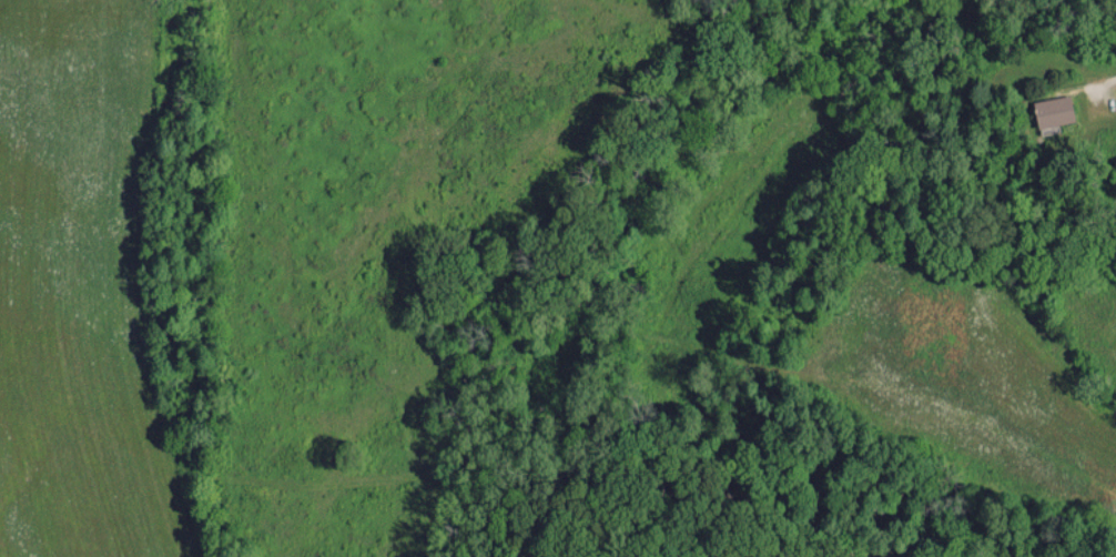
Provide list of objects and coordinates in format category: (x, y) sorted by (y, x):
building: (1053, 111)

